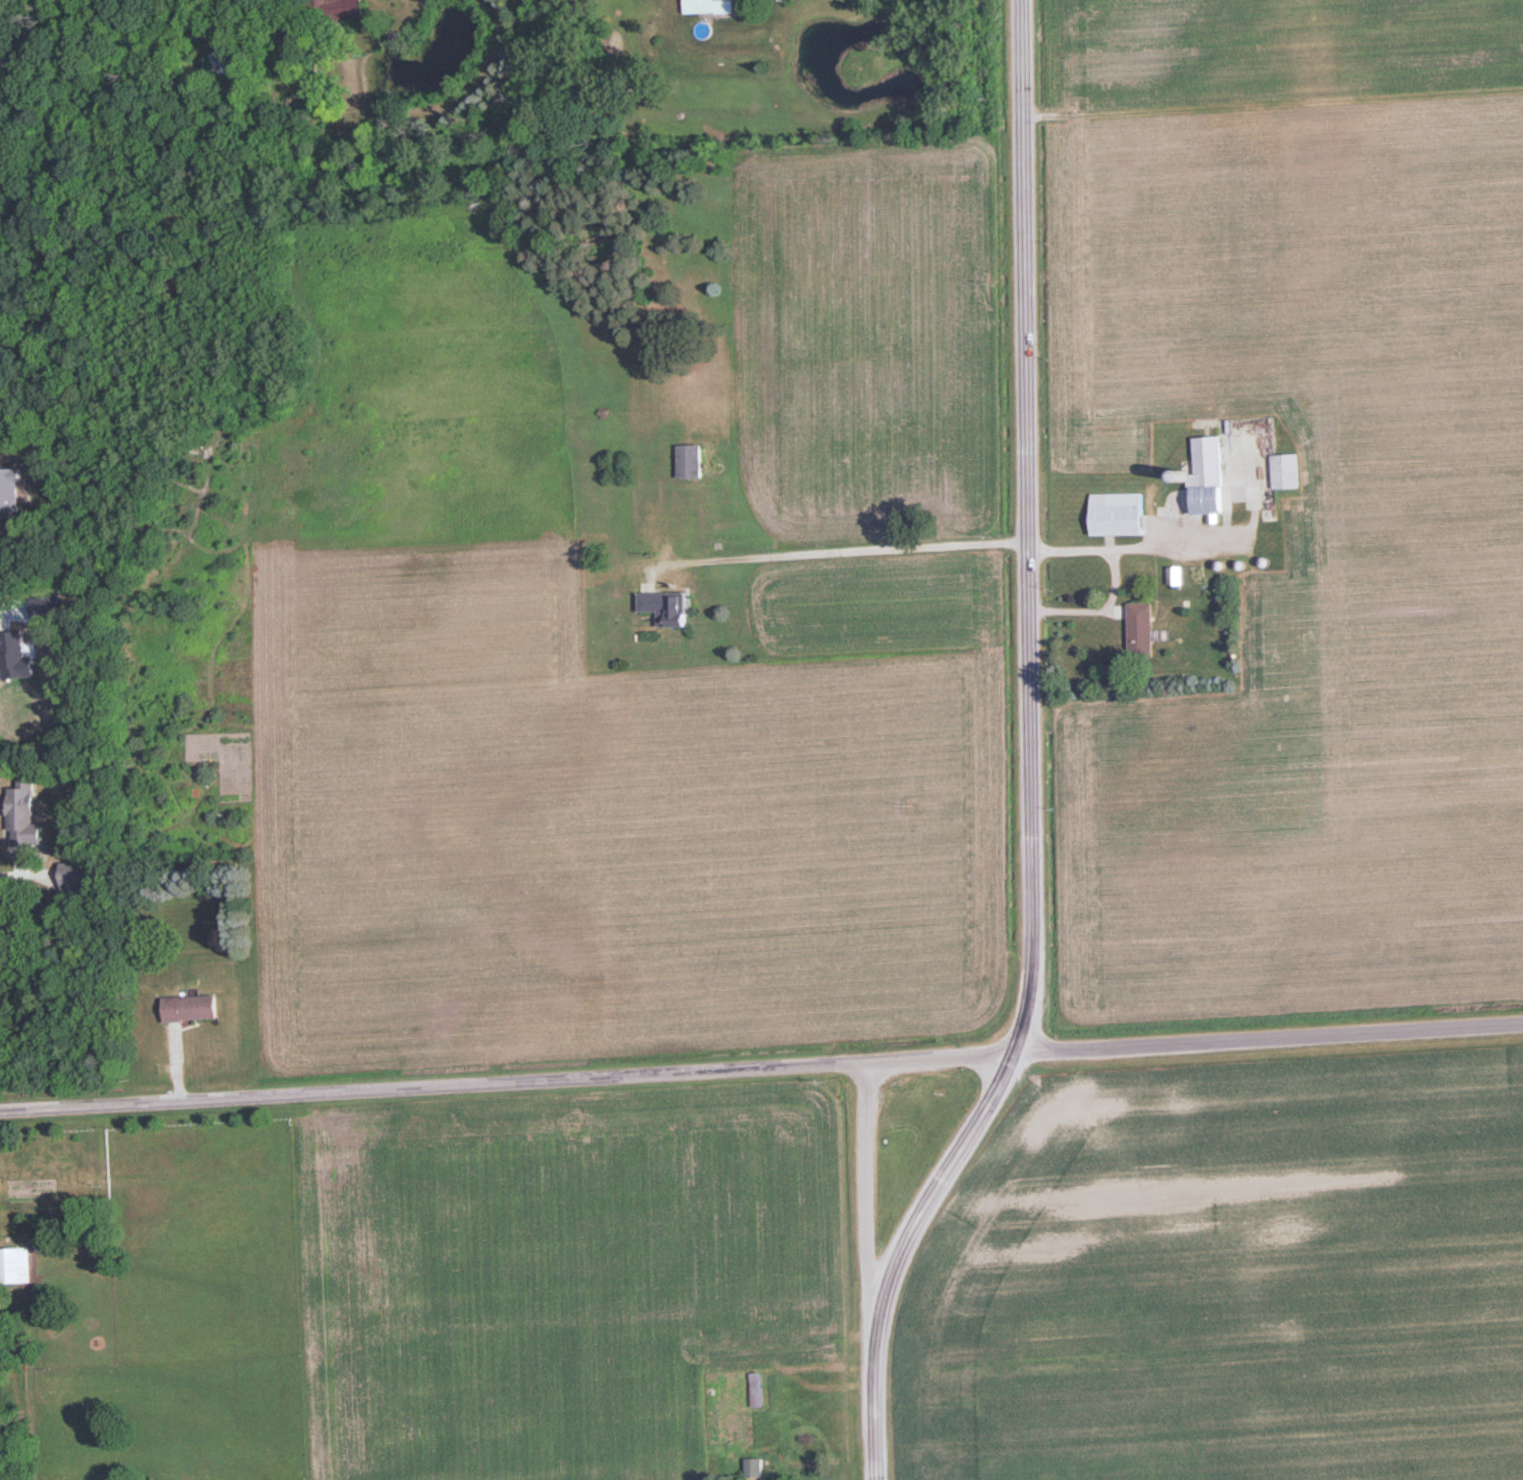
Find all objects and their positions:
building: (710, 6)
building: (340, 9)
building: (223, 60)
building: (691, 461)
building: (1288, 471)
building: (1213, 484)
building: (1119, 513)
road: (1131, 544)
road: (835, 546)
building: (1176, 575)
building: (662, 607)
road: (1096, 607)
building: (1143, 630)
road: (1031, 758)
building: (26, 818)
road: (22, 871)
building: (78, 878)
building: (192, 1008)
road: (1190, 1043)
road: (428, 1085)
road: (866, 1180)
building: (15, 1265)
building: (759, 1390)
building: (755, 1467)

